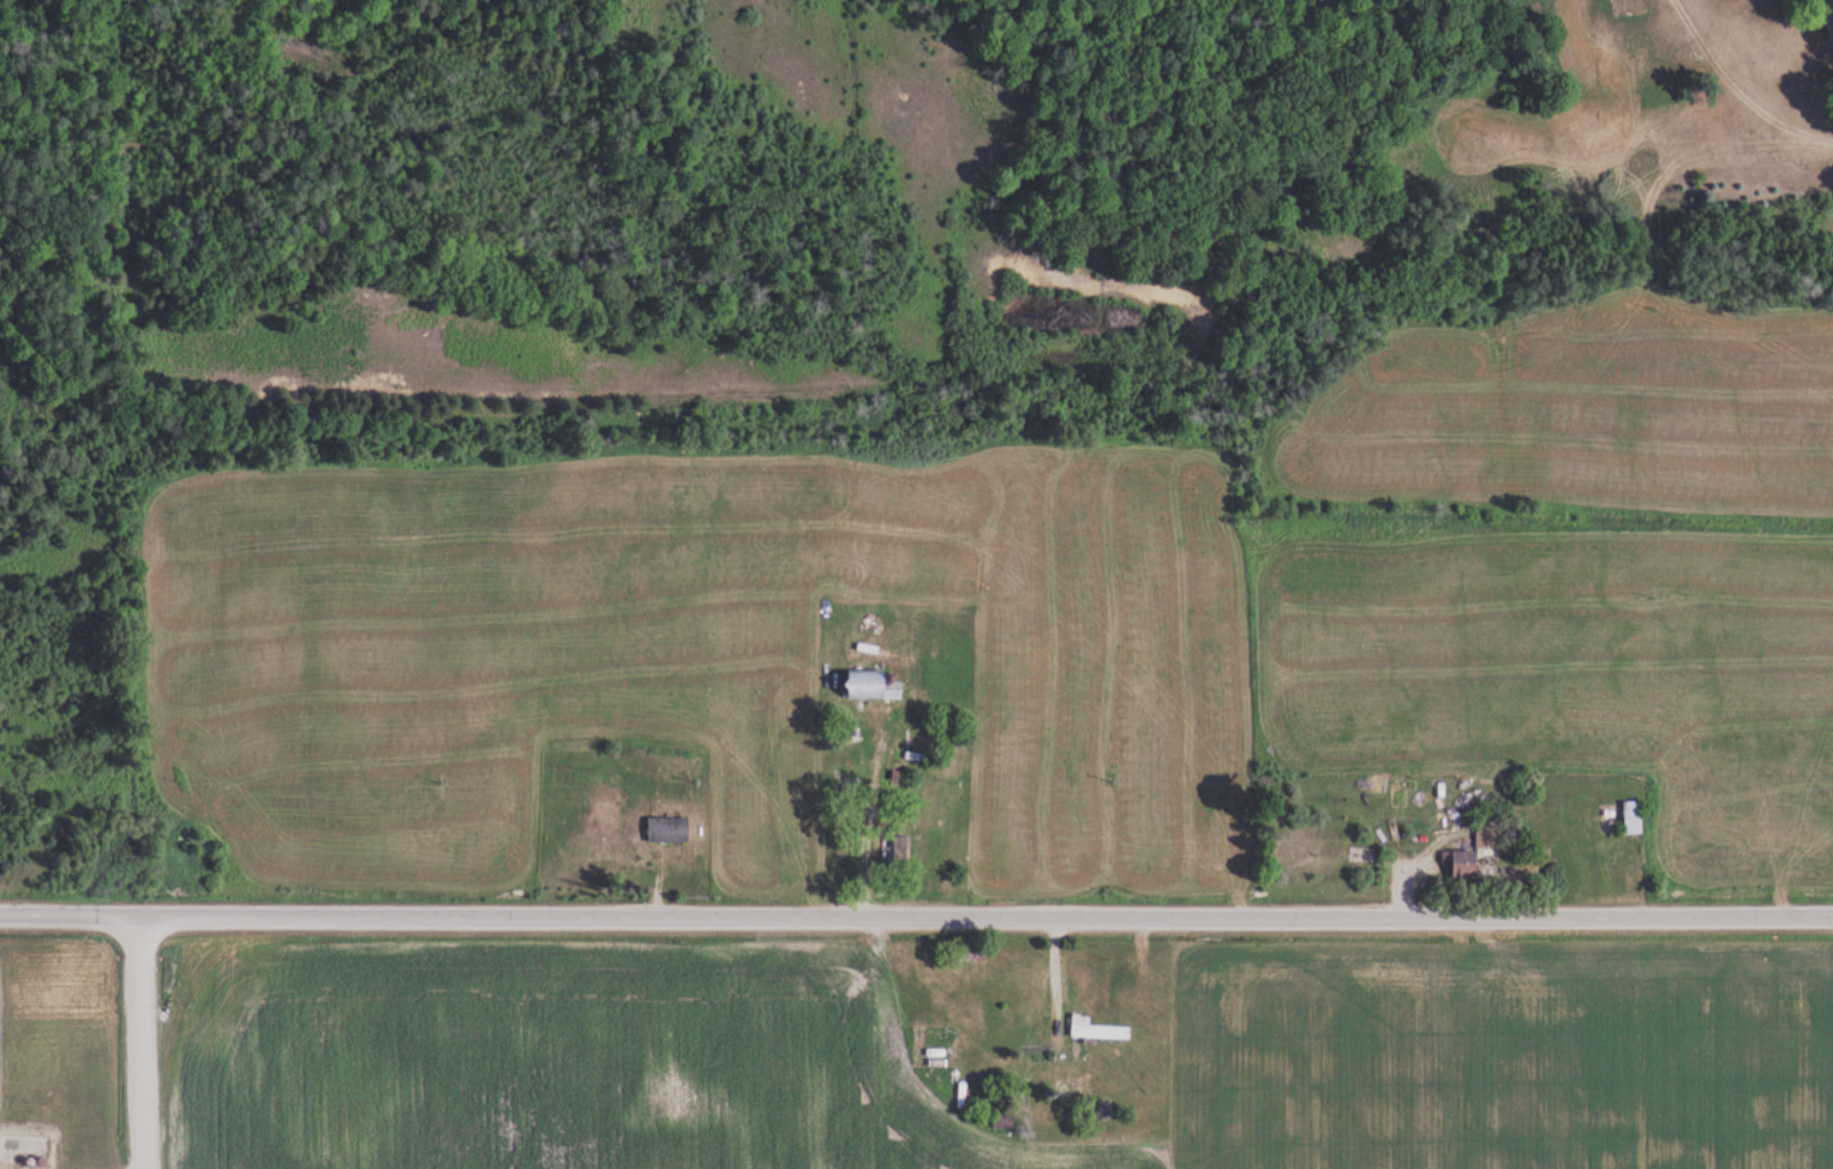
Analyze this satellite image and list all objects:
road: (1743, 88)
building: (871, 684)
building: (924, 738)
building: (903, 742)
building: (1634, 817)
building: (669, 829)
road: (859, 829)
building: (1487, 835)
building: (892, 851)
building: (1462, 863)
road: (916, 918)
building: (972, 952)
building: (1101, 1032)
road: (151, 1045)
building: (996, 1110)

